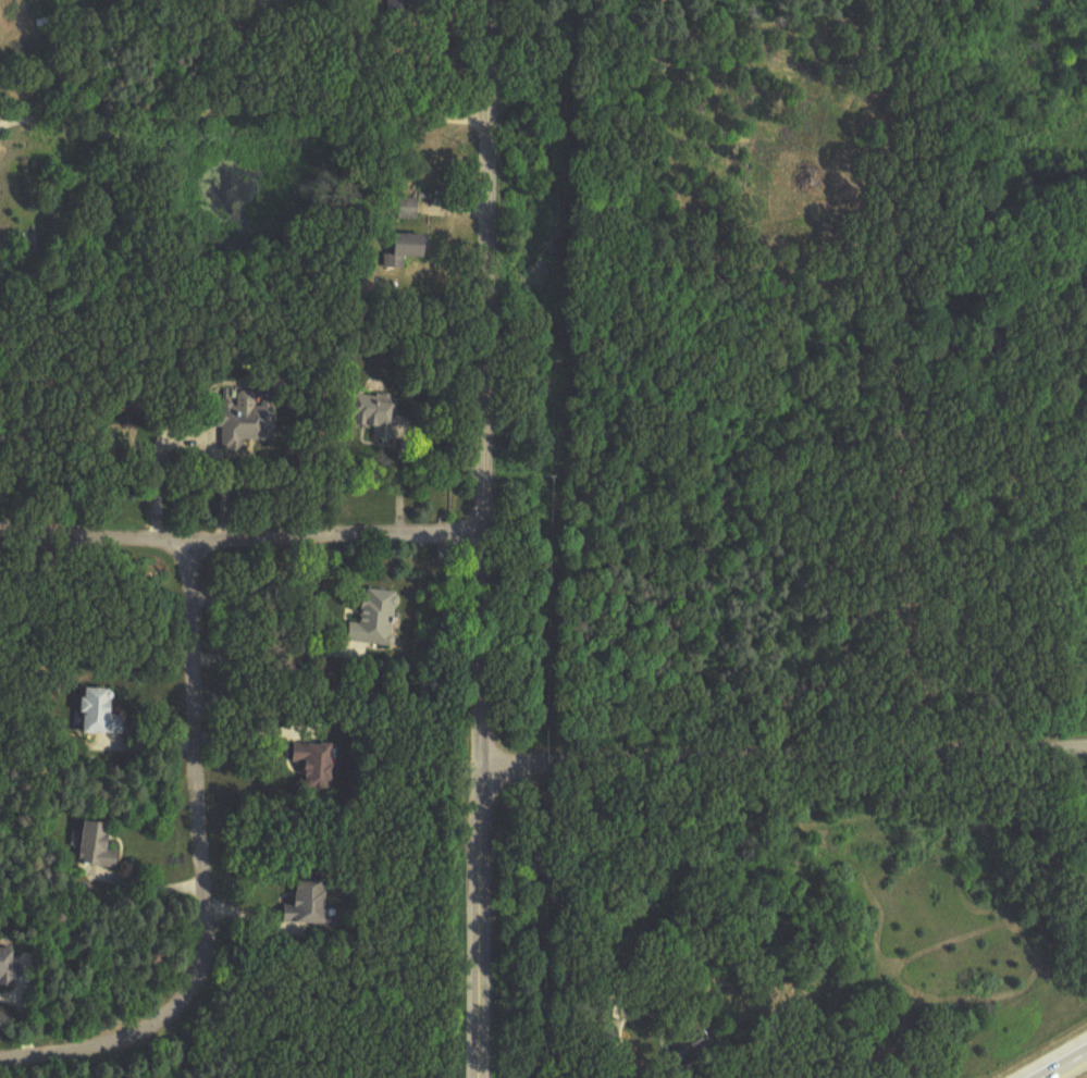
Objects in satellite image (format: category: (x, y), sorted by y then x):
building: (40, 1)
building: (399, 8)
road: (244, 107)
building: (408, 209)
building: (405, 249)
building: (374, 411)
building: (243, 424)
road: (157, 469)
road: (240, 538)
road: (481, 538)
building: (375, 620)
road: (272, 646)
building: (99, 710)
road: (251, 732)
road: (782, 756)
building: (317, 764)
building: (100, 847)
road: (202, 871)
building: (310, 904)
building: (9, 969)
building: (691, 1043)
road: (1059, 1062)

